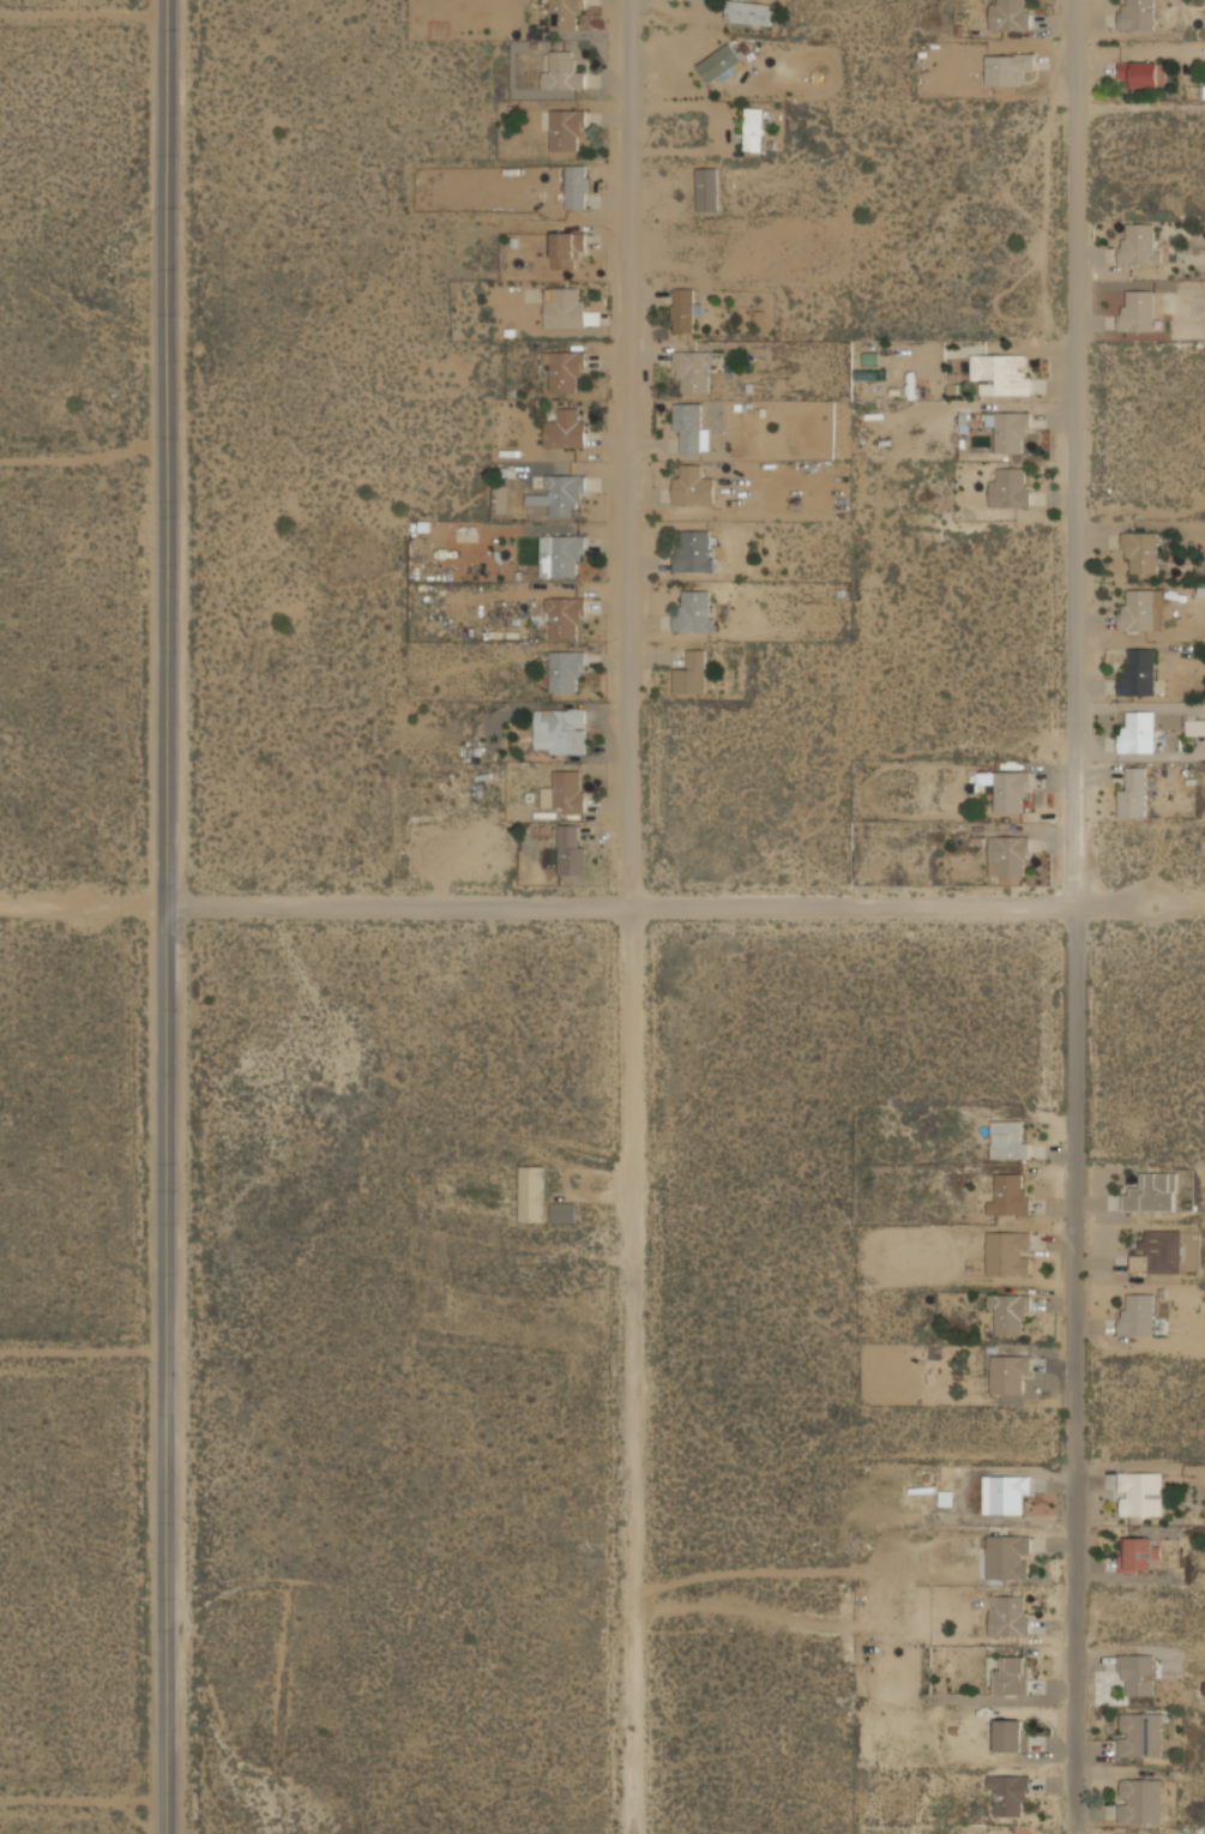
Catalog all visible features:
building: (749, 12)
road: (83, 13)
building: (564, 13)
building: (1008, 14)
building: (1135, 14)
building: (718, 62)
building: (1007, 67)
building: (561, 72)
building: (1140, 73)
building: (565, 127)
building: (753, 128)
building: (576, 187)
building: (707, 190)
building: (1139, 243)
building: (566, 248)
building: (566, 308)
building: (682, 309)
building: (1137, 311)
building: (694, 368)
building: (564, 371)
building: (1001, 373)
building: (565, 428)
building: (689, 428)
building: (1011, 429)
road: (167, 451)
road: (632, 452)
road: (1076, 452)
road: (83, 456)
building: (692, 485)
building: (1010, 488)
building: (559, 497)
building: (693, 551)
building: (1140, 551)
building: (559, 557)
building: (1139, 611)
building: (694, 612)
building: (565, 617)
building: (566, 669)
building: (1138, 671)
building: (689, 673)
building: (1194, 727)
building: (1137, 732)
building: (556, 733)
building: (1010, 789)
building: (568, 790)
building: (1132, 792)
building: (570, 849)
building: (1010, 854)
road: (83, 904)
road: (686, 904)
building: (1010, 1138)
building: (1152, 1192)
building: (531, 1193)
building: (1010, 1197)
building: (562, 1211)
building: (1007, 1252)
building: (1158, 1252)
building: (1010, 1310)
building: (1137, 1315)
road: (83, 1349)
road: (167, 1369)
road: (632, 1369)
road: (1076, 1369)
building: (1007, 1372)
building: (1008, 1492)
building: (1139, 1493)
building: (1138, 1553)
building: (1007, 1557)
building: (1010, 1614)
building: (1137, 1673)
building: (1011, 1674)
building: (1139, 1734)
building: (1012, 1736)
building: (1010, 1792)
road: (84, 1799)
building: (1139, 1799)

